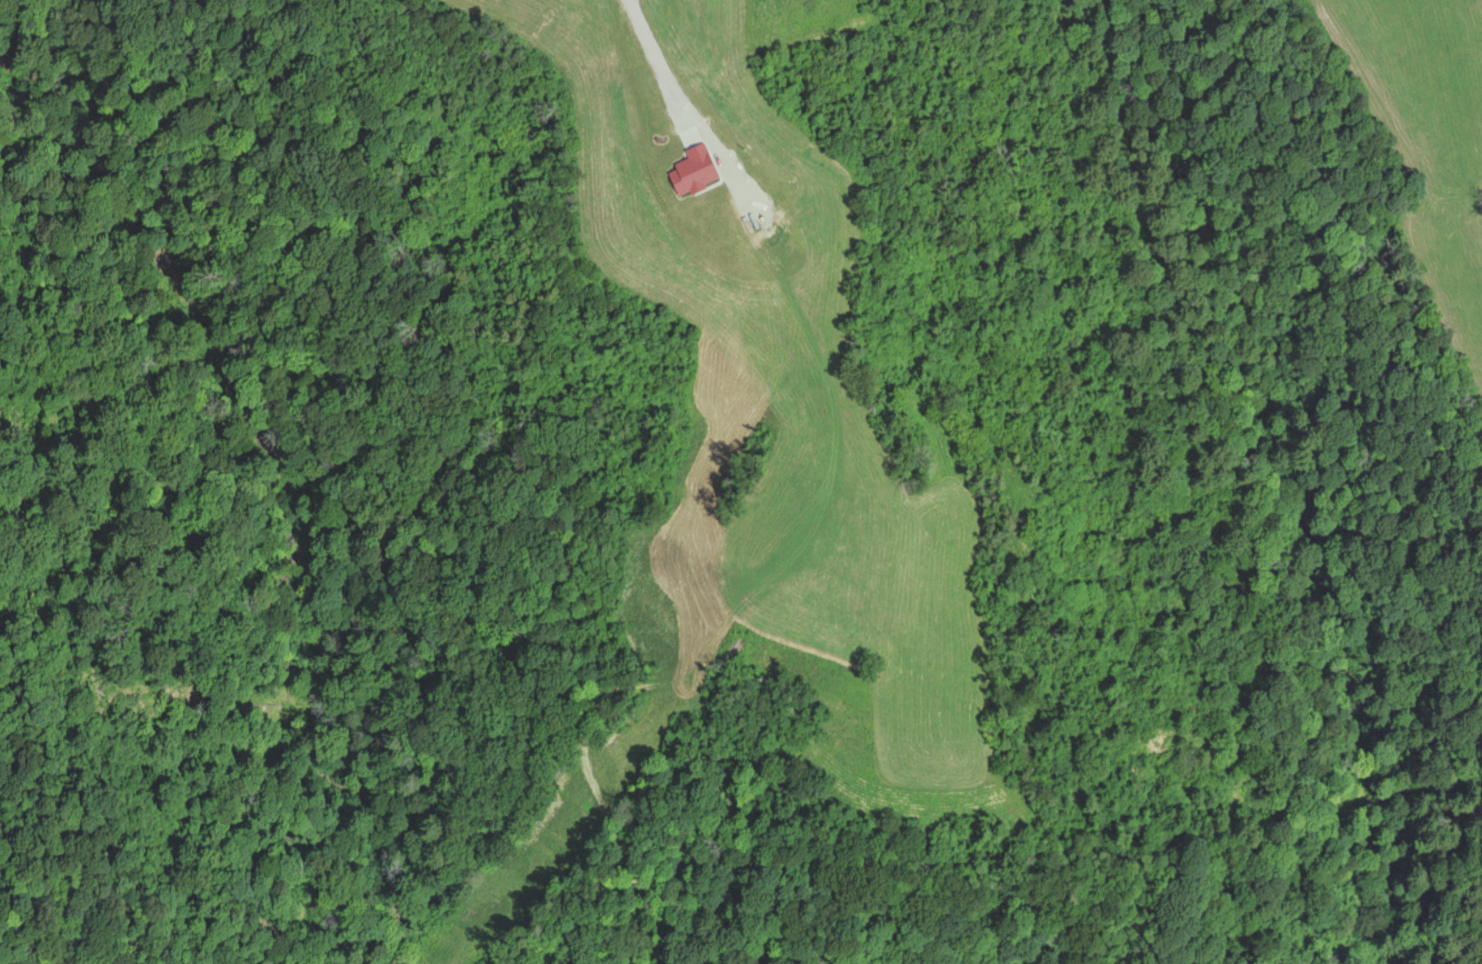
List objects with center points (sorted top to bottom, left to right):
road: (686, 106)
building: (734, 200)

